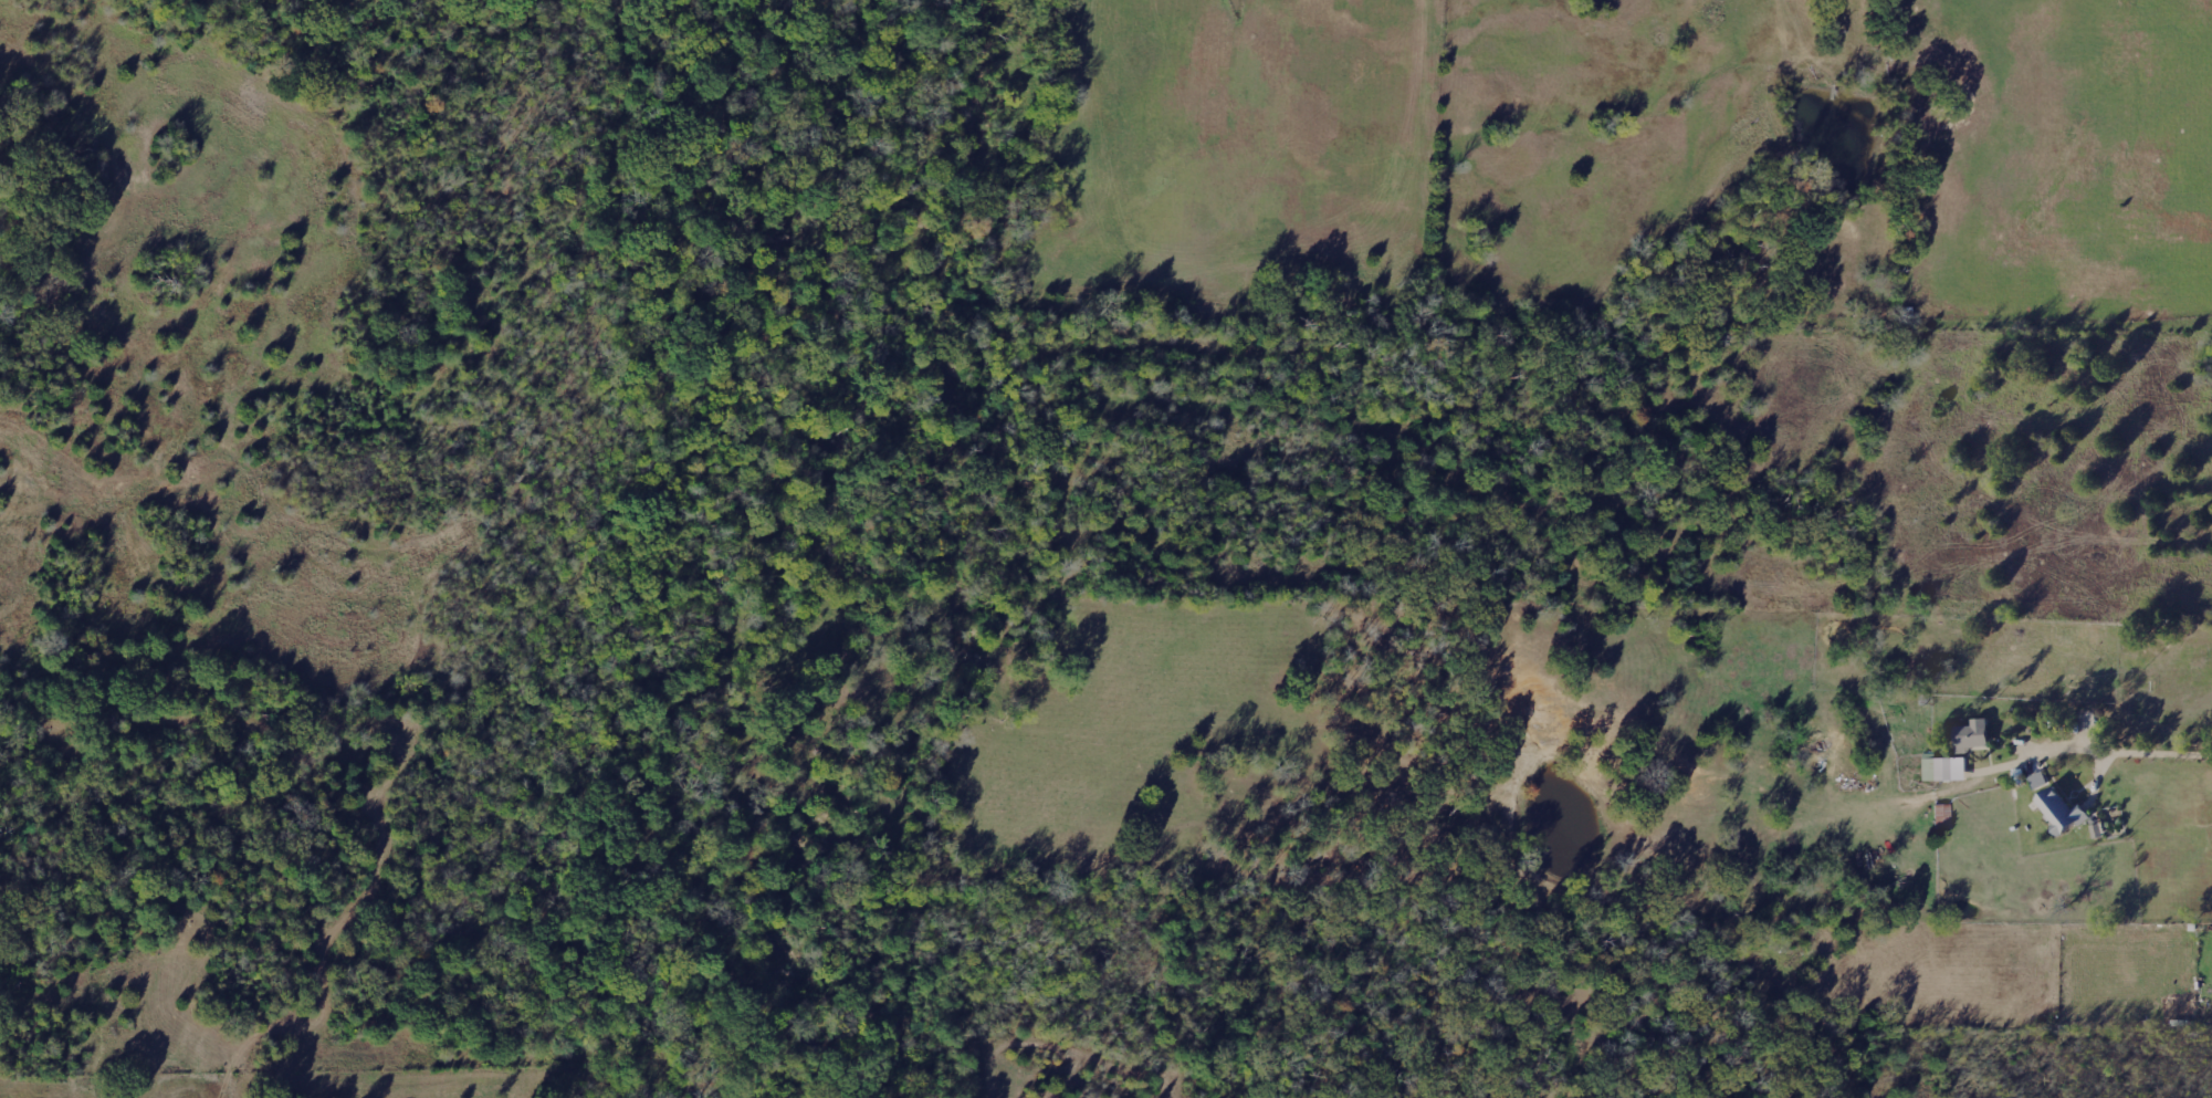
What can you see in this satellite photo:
building: (1946, 768)
building: (2041, 783)
building: (2061, 812)
building: (2098, 832)

